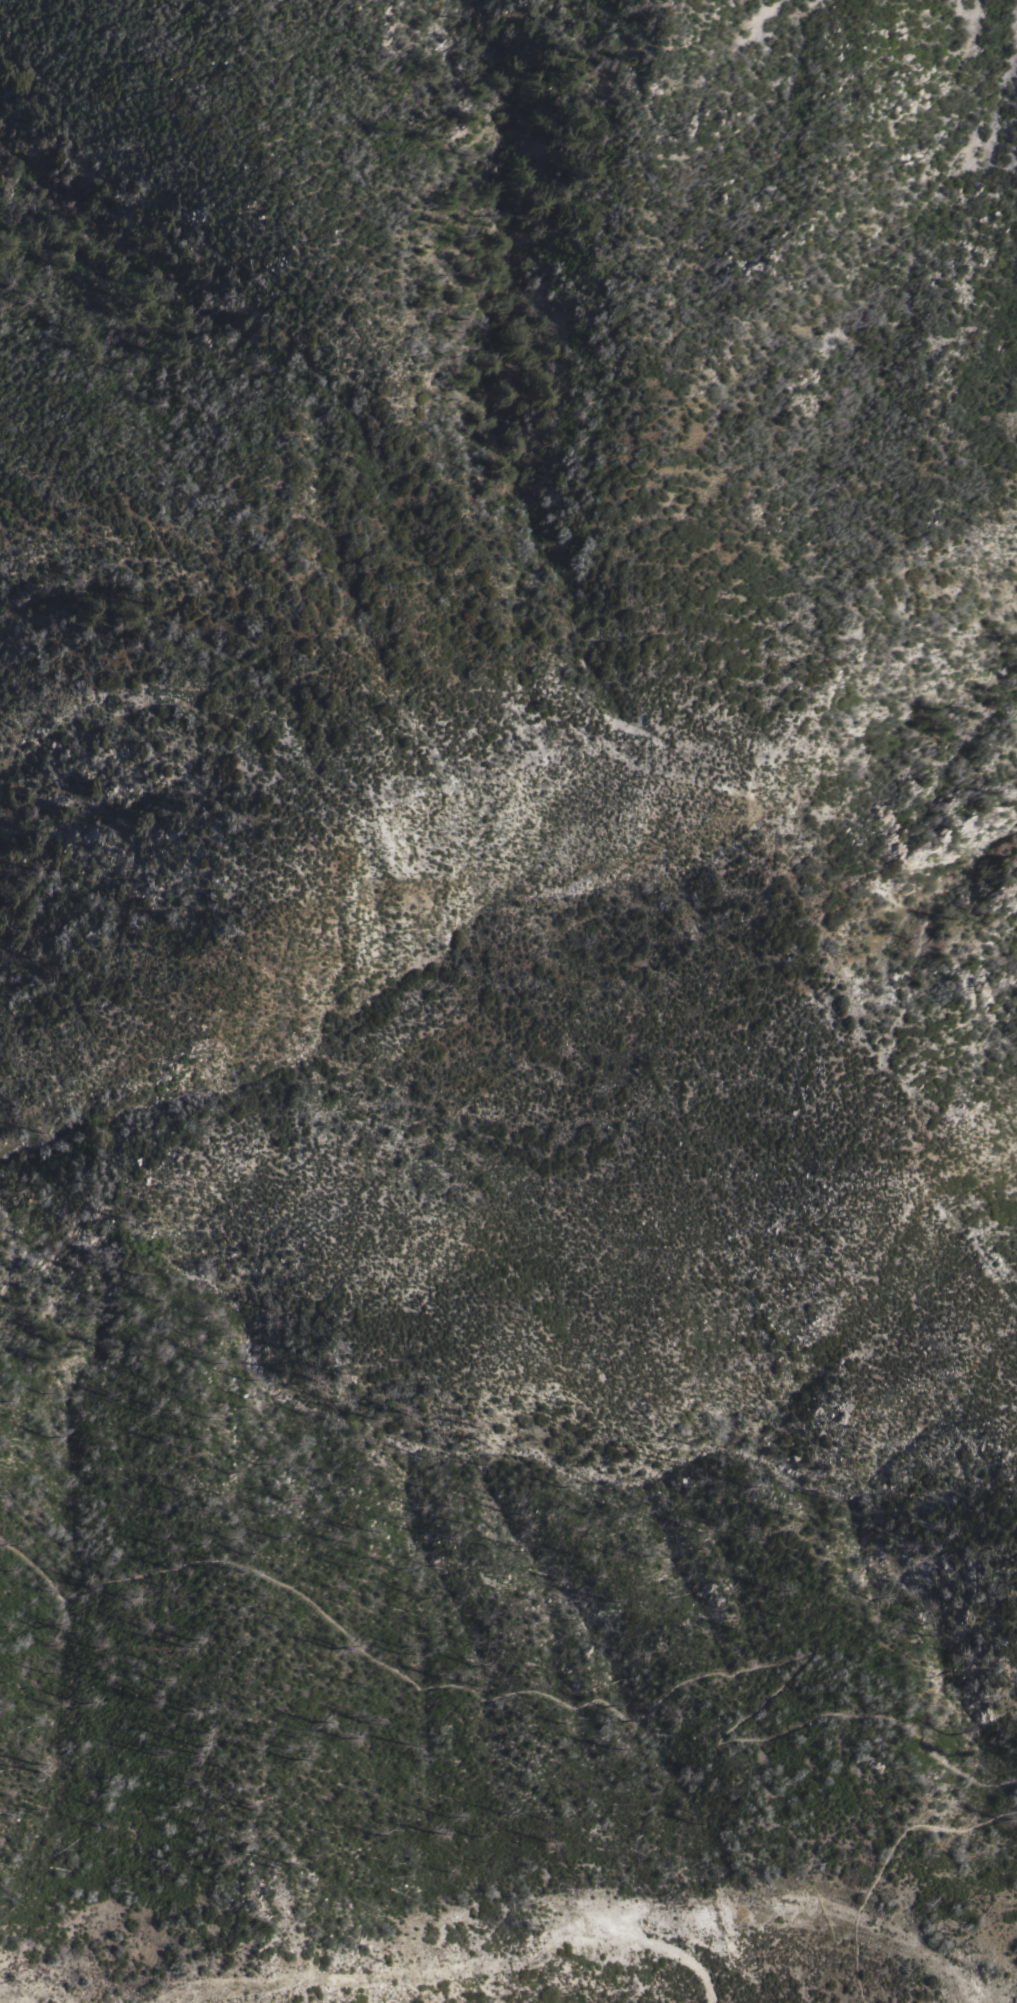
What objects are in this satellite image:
road: (587, 1698)
road: (883, 1858)
road: (672, 1950)

